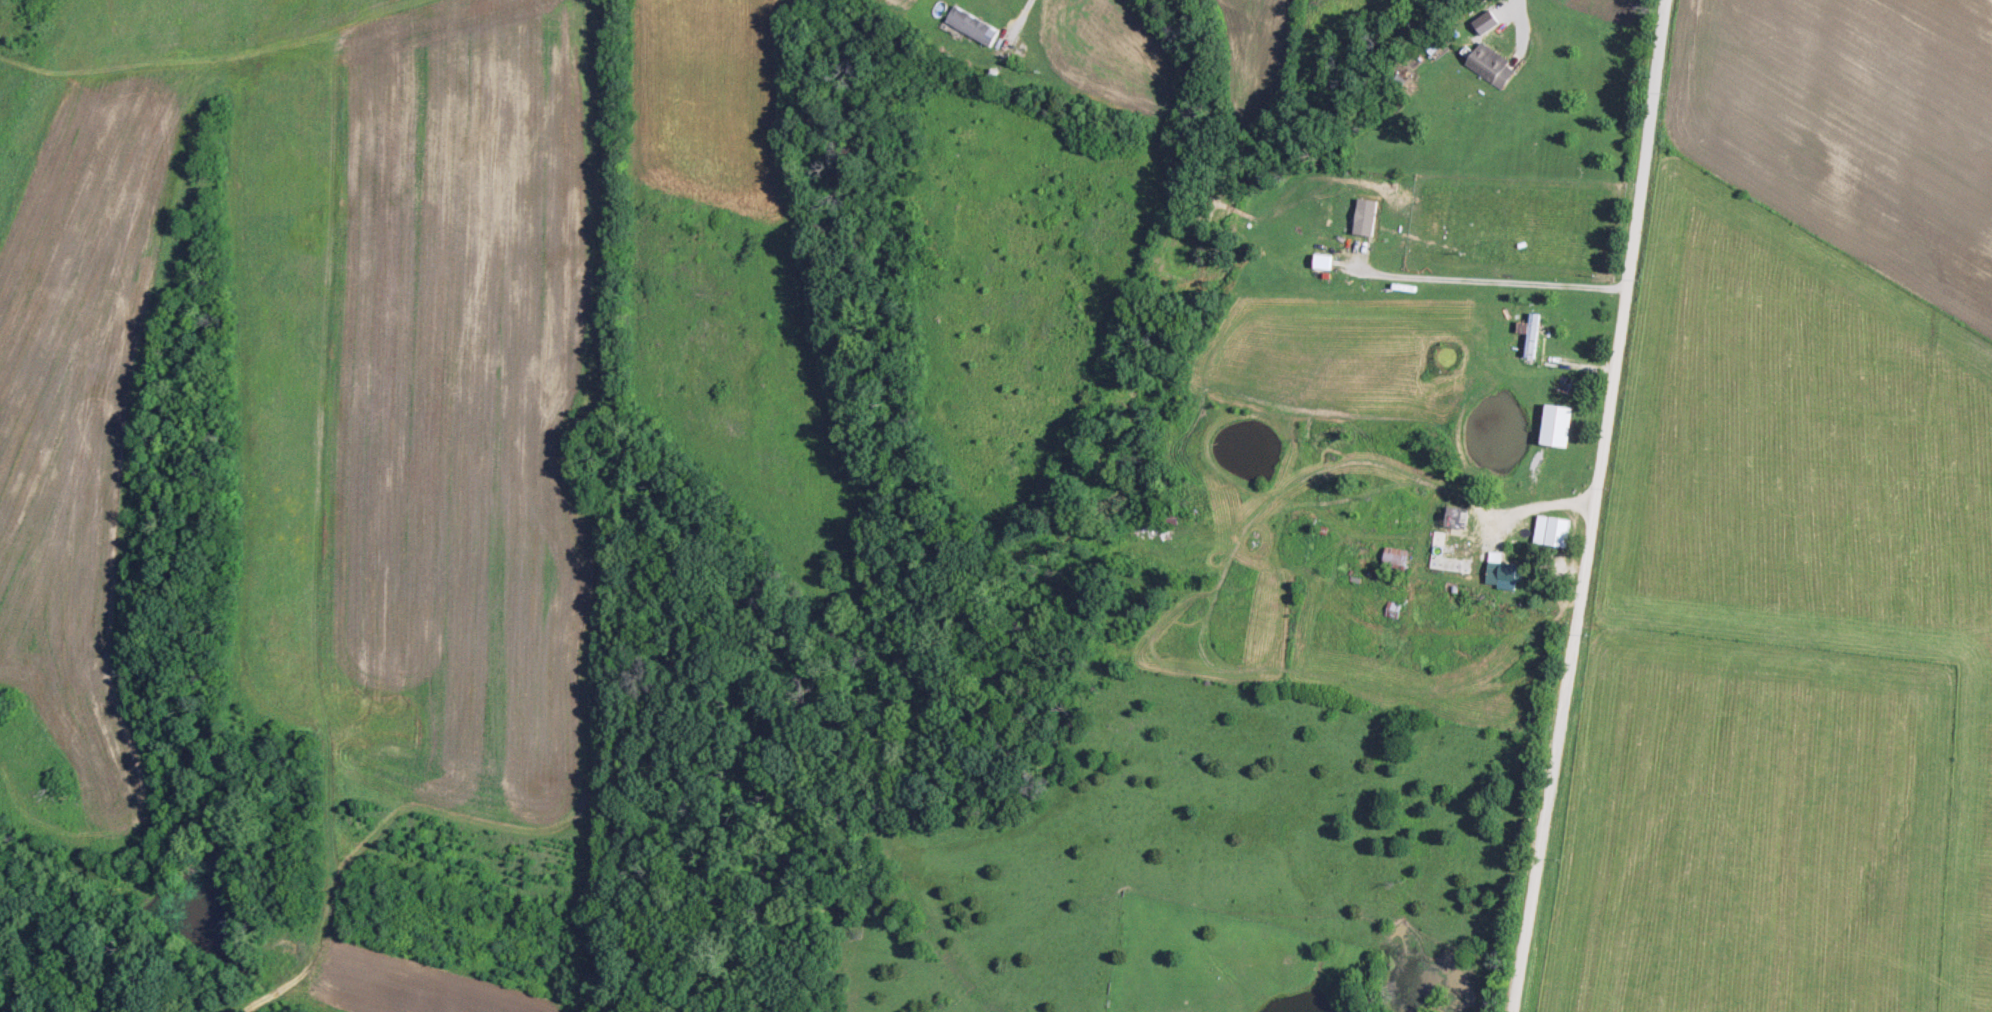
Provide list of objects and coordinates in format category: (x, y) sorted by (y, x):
building: (1488, 22)
building: (974, 25)
building: (1491, 66)
building: (1368, 216)
road: (1473, 280)
building: (1535, 334)
building: (1559, 425)
road: (1597, 506)
road: (1539, 509)
building: (1555, 530)
building: (1446, 556)
building: (1398, 557)
building: (1505, 572)

